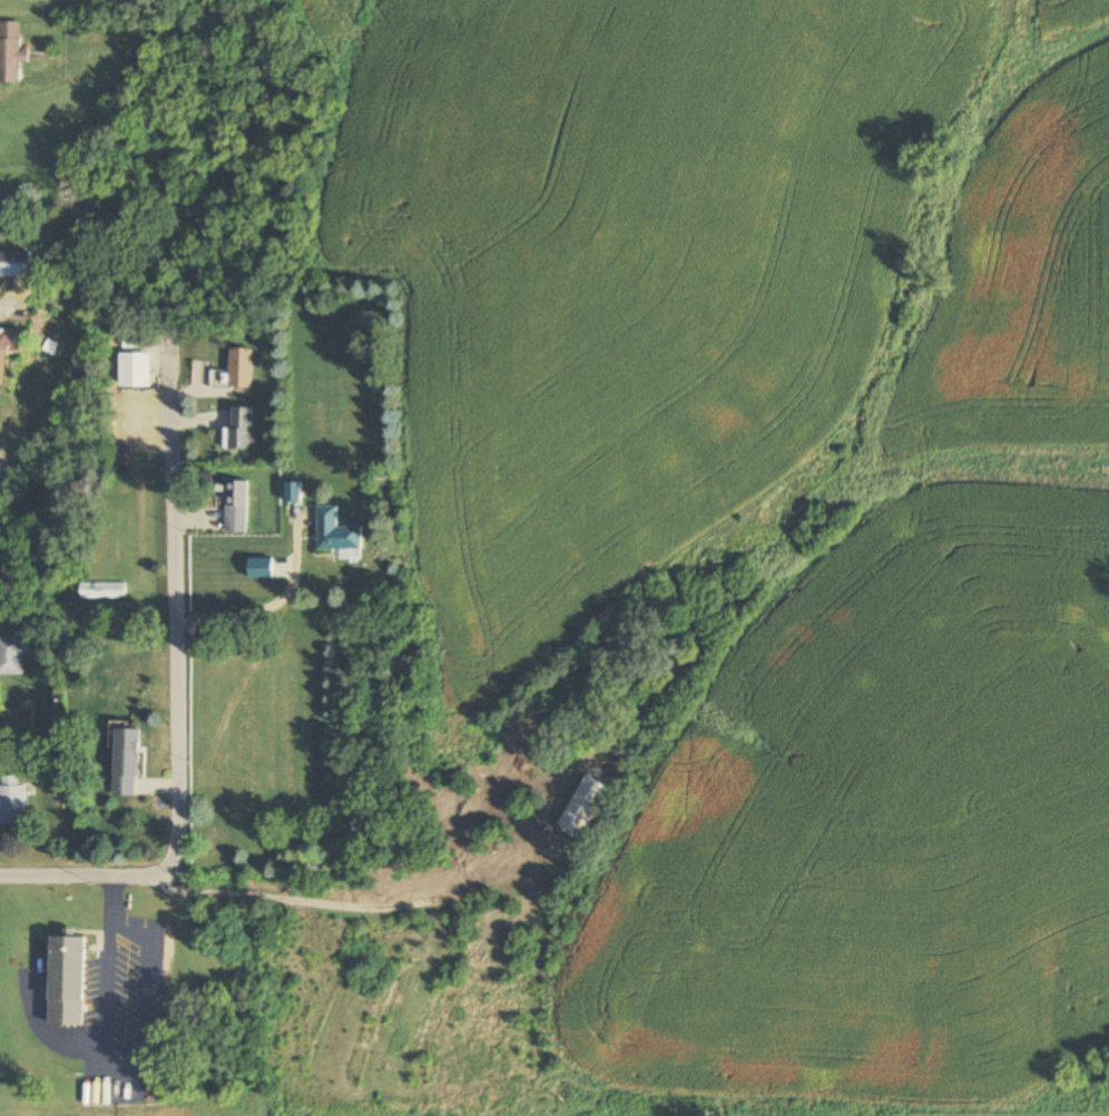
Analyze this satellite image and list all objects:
building: (10, 52)
building: (16, 264)
building: (7, 351)
building: (239, 369)
building: (136, 370)
building: (216, 379)
building: (238, 430)
crop: (779, 486)
building: (293, 492)
building: (235, 507)
building: (336, 532)
building: (261, 569)
building: (101, 591)
road: (175, 611)
building: (10, 656)
building: (12, 725)
building: (127, 763)
building: (11, 801)
building: (582, 806)
road: (85, 874)
building: (67, 970)

